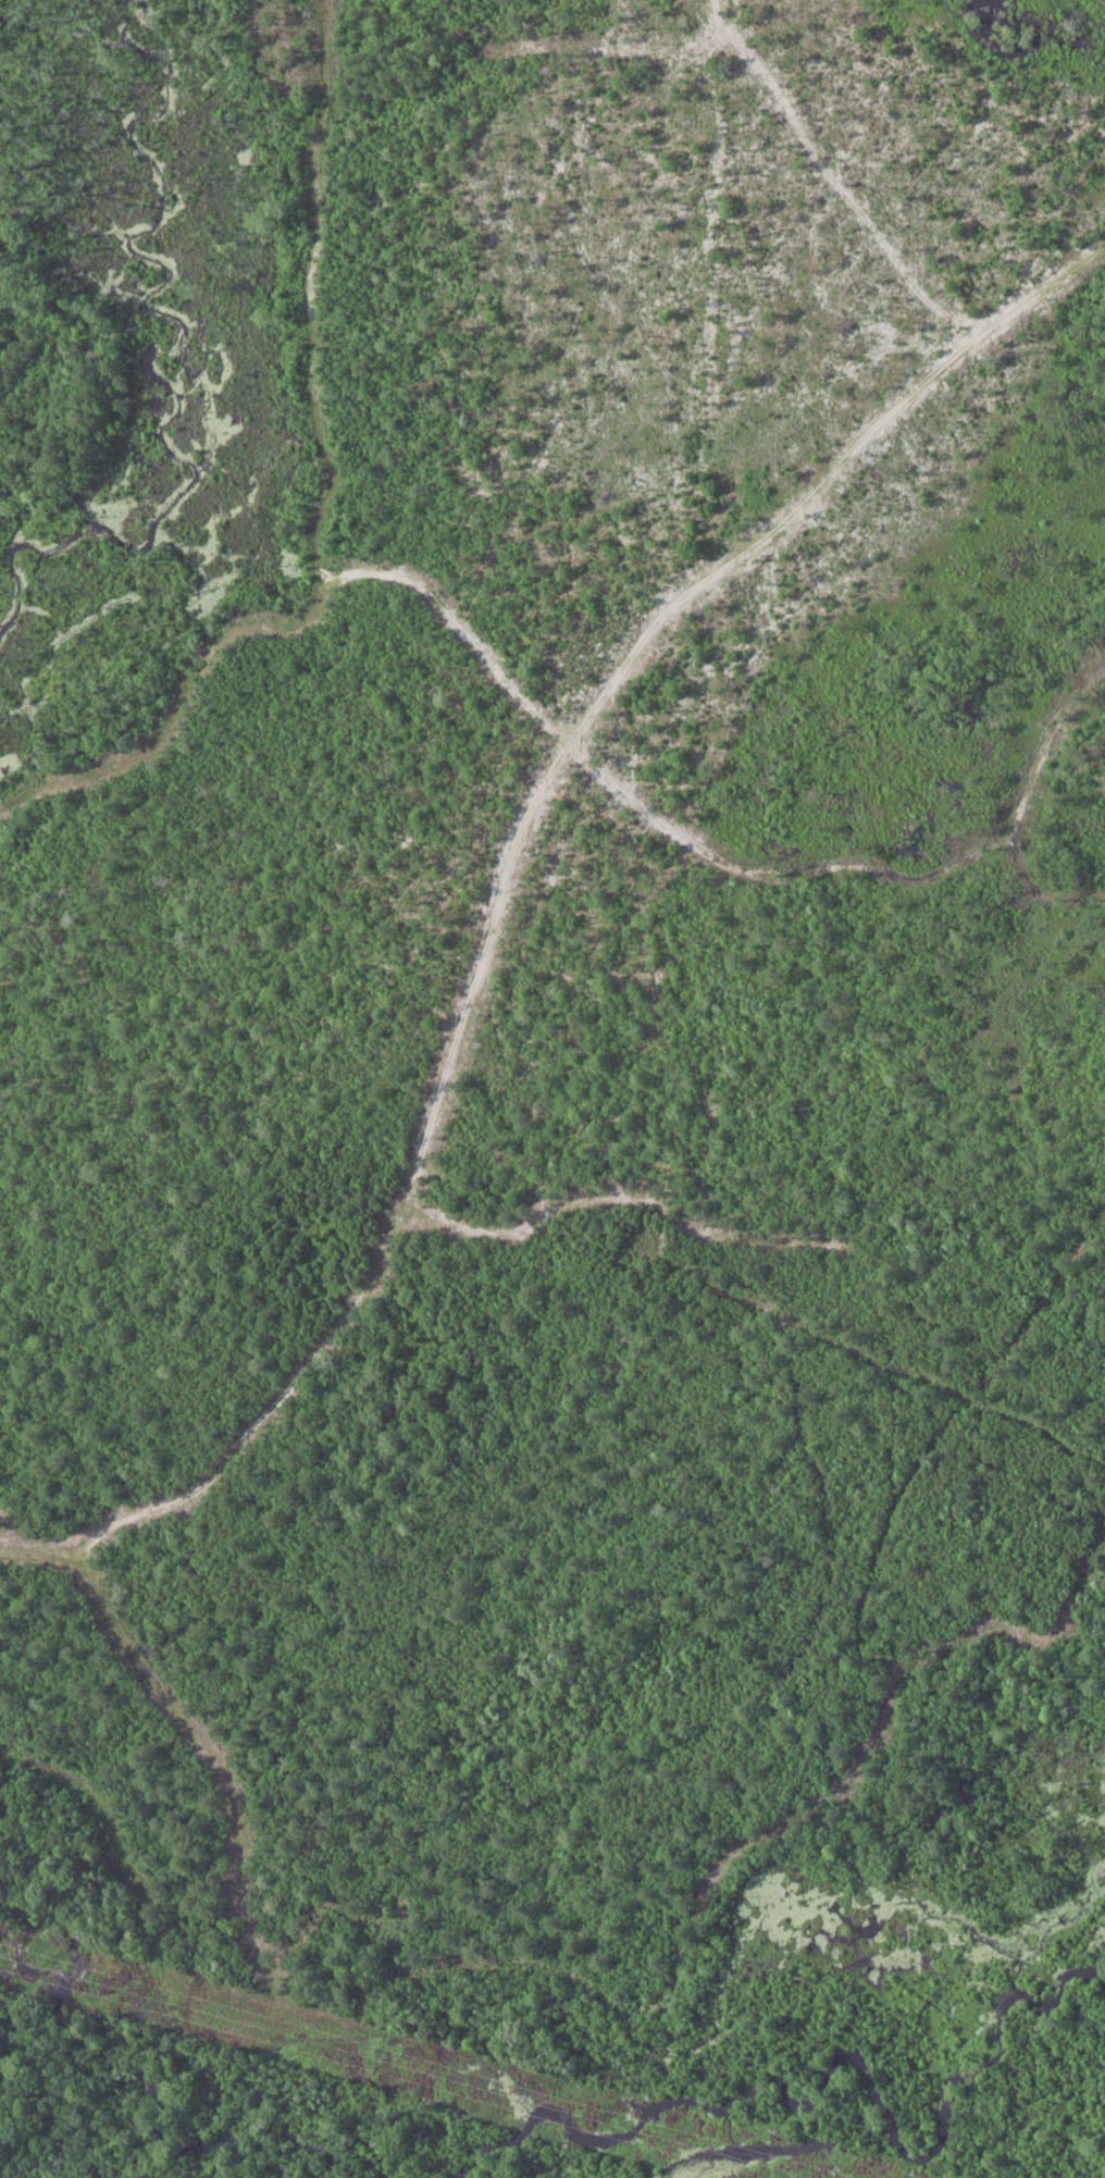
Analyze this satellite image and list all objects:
power tower: (109, 1982)
power tower: (583, 2114)

